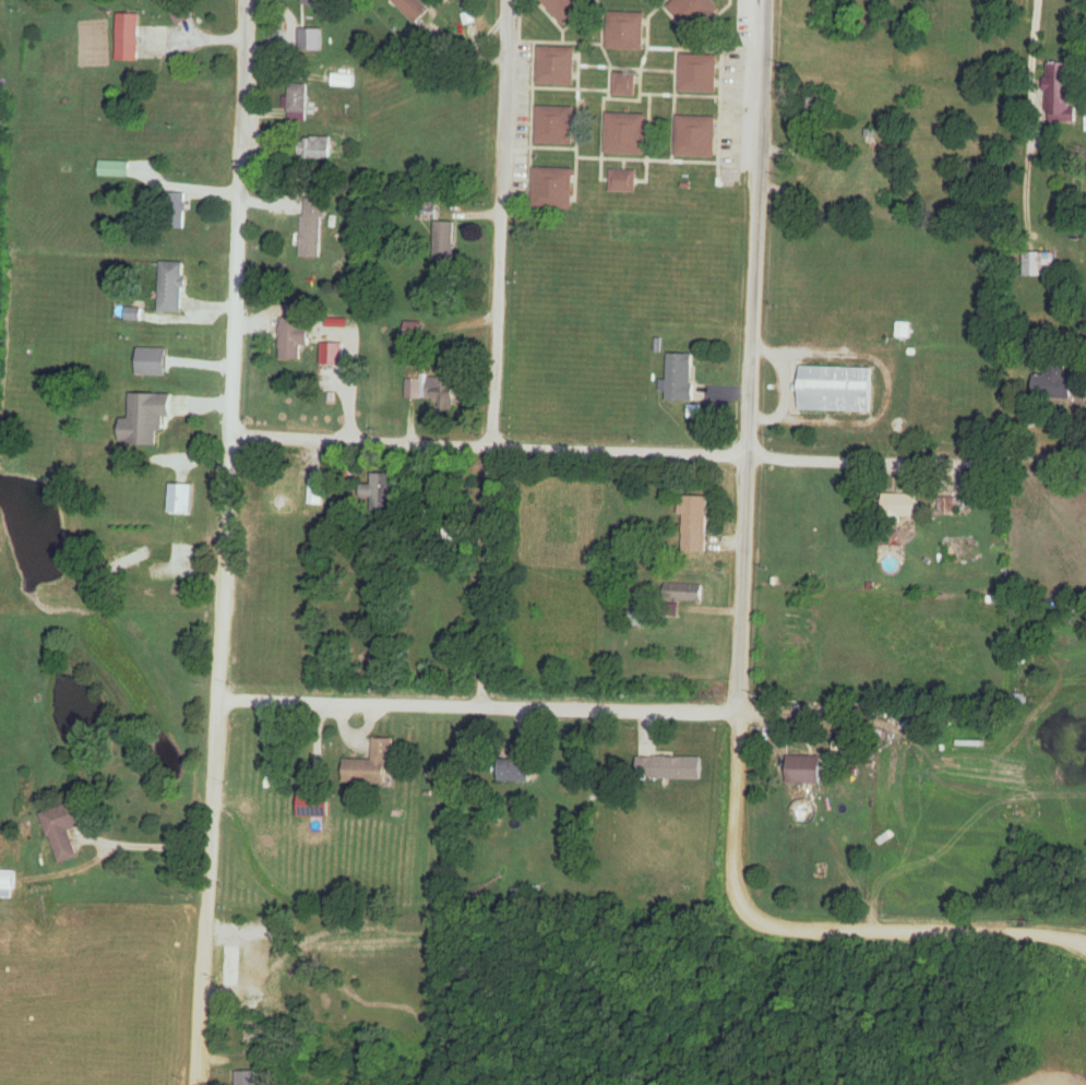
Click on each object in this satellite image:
building: (317, 4)
building: (413, 9)
building: (565, 9)
building: (182, 11)
building: (694, 12)
building: (624, 32)
building: (127, 38)
building: (556, 65)
building: (699, 74)
building: (339, 79)
building: (624, 85)
building: (1059, 93)
building: (296, 103)
building: (813, 107)
building: (554, 126)
road: (1030, 127)
building: (625, 133)
building: (695, 136)
building: (318, 147)
building: (114, 168)
building: (622, 180)
building: (552, 189)
building: (312, 228)
building: (444, 238)
building: (1038, 265)
building: (171, 286)
building: (413, 330)
building: (290, 338)
road: (497, 356)
building: (152, 361)
building: (680, 378)
building: (1053, 383)
building: (413, 389)
building: (838, 389)
building: (441, 392)
road: (1084, 407)
building: (145, 418)
road: (359, 439)
road: (618, 451)
road: (916, 461)
building: (383, 490)
building: (315, 491)
building: (180, 499)
building: (899, 504)
building: (950, 504)
building: (694, 524)
road: (225, 542)
building: (129, 561)
building: (181, 561)
building: (1003, 565)
building: (682, 593)
building: (643, 619)
road: (742, 630)
road: (478, 706)
building: (371, 765)
building: (804, 770)
building: (517, 771)
building: (63, 831)
road: (142, 845)
building: (8, 881)
building: (250, 969)
building: (281, 1002)
building: (244, 1077)

